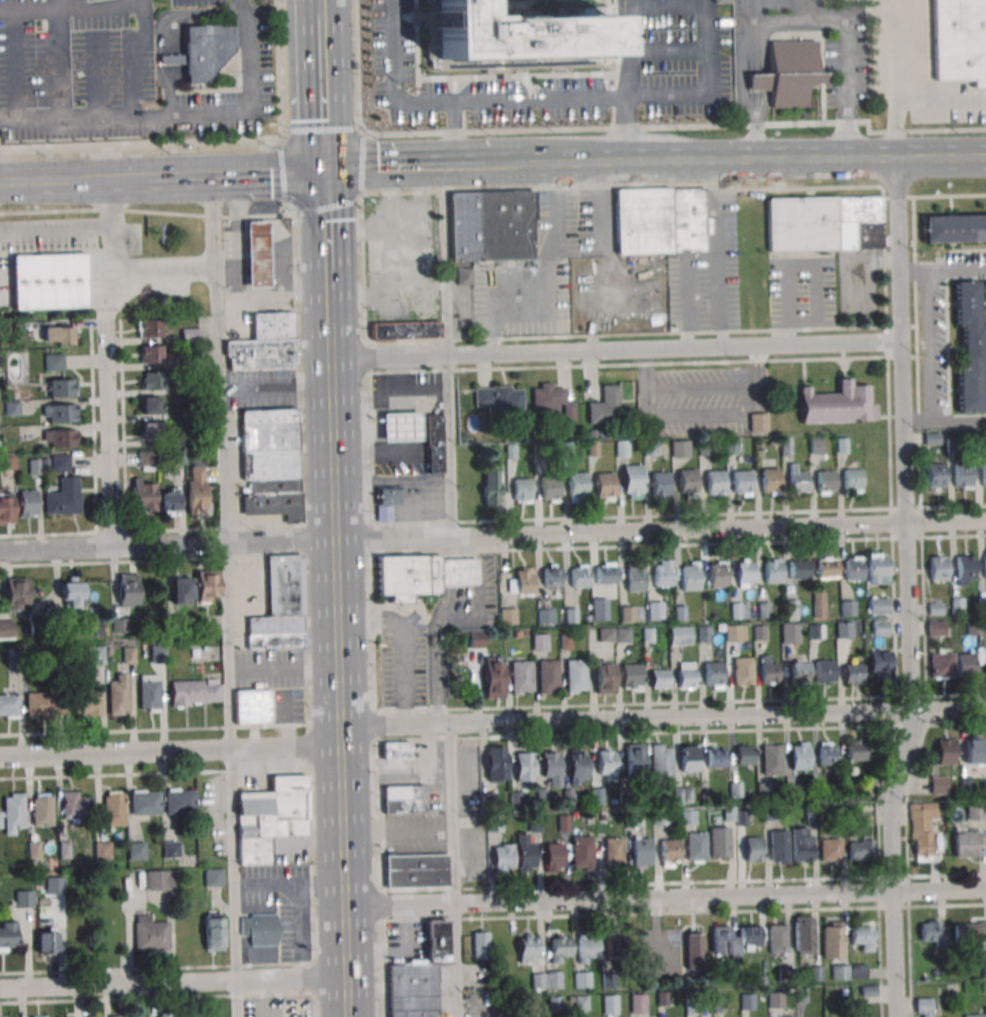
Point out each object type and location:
building: (720, 2)
road: (88, 3)
road: (55, 4)
road: (317, 7)
road: (64, 8)
road: (836, 23)
building: (517, 33)
building: (959, 39)
building: (206, 49)
road: (753, 49)
road: (892, 51)
road: (102, 64)
road: (354, 64)
road: (58, 66)
road: (16, 68)
road: (280, 72)
building: (790, 73)
road: (754, 83)
building: (979, 83)
road: (319, 94)
road: (549, 99)
road: (909, 101)
road: (254, 112)
road: (126, 120)
road: (679, 126)
road: (318, 129)
road: (755, 129)
road: (360, 131)
road: (626, 132)
road: (844, 134)
road: (453, 137)
road: (140, 142)
road: (362, 164)
road: (752, 166)
road: (498, 170)
road: (400, 172)
road: (281, 173)
traffic signals: (322, 174)
road: (235, 177)
road: (74, 184)
road: (358, 197)
road: (290, 207)
road: (326, 208)
building: (662, 221)
building: (824, 223)
building: (492, 226)
road: (54, 227)
building: (954, 227)
road: (323, 231)
building: (256, 254)
road: (717, 256)
building: (402, 260)
road: (954, 270)
road: (543, 271)
road: (160, 275)
building: (463, 275)
building: (49, 281)
road: (685, 289)
building: (424, 301)
road: (325, 304)
building: (272, 325)
building: (149, 328)
building: (405, 329)
building: (57, 335)
building: (189, 335)
building: (969, 348)
road: (614, 351)
building: (259, 353)
building: (151, 354)
road: (446, 354)
building: (54, 362)
road: (928, 363)
road: (104, 364)
building: (152, 380)
building: (62, 387)
road: (327, 395)
building: (499, 398)
road: (363, 399)
building: (551, 400)
building: (151, 405)
building: (605, 405)
building: (837, 405)
building: (59, 413)
building: (758, 422)
road: (917, 423)
building: (398, 425)
building: (150, 429)
building: (59, 438)
road: (400, 439)
building: (432, 442)
building: (785, 445)
building: (841, 446)
building: (730, 447)
building: (815, 447)
building: (648, 448)
building: (704, 448)
building: (593, 449)
building: (621, 449)
building: (679, 449)
building: (565, 450)
building: (538, 451)
building: (510, 452)
building: (146, 460)
building: (59, 463)
building: (270, 464)
building: (983, 474)
building: (961, 475)
building: (934, 476)
building: (631, 479)
road: (390, 480)
building: (852, 480)
building: (824, 481)
building: (686, 482)
building: (769, 482)
building: (797, 482)
building: (658, 483)
building: (741, 483)
building: (714, 484)
building: (490, 486)
building: (604, 486)
building: (576, 487)
building: (548, 488)
building: (196, 490)
building: (521, 490)
building: (143, 496)
building: (64, 497)
building: (169, 499)
building: (385, 501)
building: (27, 503)
building: (6, 507)
road: (659, 530)
road: (166, 544)
building: (877, 567)
building: (985, 567)
building: (936, 568)
building: (964, 568)
building: (825, 569)
building: (798, 570)
building: (852, 570)
building: (744, 573)
building: (772, 573)
building: (422, 574)
building: (662, 574)
building: (604, 575)
building: (717, 576)
building: (551, 577)
building: (689, 577)
building: (579, 578)
building: (634, 580)
building: (523, 584)
building: (207, 586)
building: (127, 590)
building: (181, 590)
building: (71, 591)
road: (909, 591)
building: (15, 593)
road: (225, 597)
building: (281, 604)
building: (818, 604)
building: (878, 605)
building: (600, 608)
building: (847, 608)
building: (655, 609)
building: (738, 610)
building: (626, 614)
building: (545, 616)
building: (507, 617)
building: (570, 617)
building: (120, 625)
building: (93, 627)
building: (973, 627)
building: (6, 628)
building: (935, 628)
building: (879, 629)
building: (843, 630)
building: (816, 631)
building: (788, 632)
building: (733, 633)
building: (703, 634)
building: (647, 635)
building: (605, 636)
building: (622, 636)
building: (680, 636)
building: (475, 639)
road: (400, 641)
building: (564, 641)
building: (540, 642)
building: (157, 654)
building: (95, 655)
building: (128, 655)
building: (985, 663)
building: (965, 664)
building: (880, 665)
building: (941, 665)
building: (742, 670)
building: (769, 670)
building: (824, 671)
building: (796, 672)
building: (712, 673)
building: (852, 673)
building: (686, 674)
building: (574, 676)
building: (629, 676)
building: (493, 677)
building: (546, 677)
building: (519, 678)
building: (603, 678)
building: (659, 678)
building: (149, 692)
building: (194, 693)
building: (118, 695)
building: (87, 701)
road: (719, 702)
building: (45, 703)
building: (9, 705)
building: (250, 706)
road: (661, 717)
road: (338, 742)
road: (307, 747)
building: (396, 749)
building: (855, 750)
building: (946, 751)
building: (974, 751)
road: (169, 753)
building: (828, 753)
building: (744, 754)
building: (799, 755)
building: (713, 756)
building: (634, 758)
building: (688, 758)
building: (771, 759)
building: (661, 761)
building: (496, 764)
building: (606, 764)
building: (524, 766)
building: (551, 767)
building: (577, 767)
building: (939, 784)
building: (682, 794)
building: (405, 799)
building: (180, 801)
building: (145, 802)
building: (75, 805)
building: (114, 808)
building: (42, 809)
building: (975, 812)
building: (12, 813)
building: (270, 817)
building: (661, 817)
building: (497, 824)
building: (922, 829)
building: (719, 843)
building: (966, 843)
building: (802, 844)
building: (779, 845)
building: (696, 846)
building: (830, 848)
building: (171, 849)
building: (752, 849)
building: (861, 849)
building: (103, 850)
building: (613, 850)
building: (525, 852)
building: (582, 852)
building: (641, 852)
building: (669, 852)
building: (503, 857)
building: (554, 857)
road: (451, 870)
building: (417, 871)
building: (159, 880)
building: (55, 886)
road: (664, 897)
building: (23, 898)
building: (260, 929)
building: (930, 930)
building: (968, 932)
building: (150, 933)
building: (213, 934)
building: (802, 935)
building: (8, 936)
building: (862, 937)
building: (734, 938)
building: (778, 938)
building: (832, 939)
building: (47, 942)
building: (438, 942)
building: (481, 945)
building: (615, 946)
building: (559, 947)
building: (528, 948)
building: (587, 948)
building: (693, 952)
building: (984, 968)
building: (841, 972)
building: (546, 979)
building: (582, 979)
building: (608, 980)
road: (172, 981)
building: (413, 990)
building: (776, 1000)
building: (747, 1001)
building: (581, 1002)
building: (638, 1002)
building: (555, 1004)
building: (610, 1004)
building: (923, 1007)
building: (161, 1015)
building: (975, 1015)
building: (39, 1016)
building: (94, 1016)
building: (118, 1016)
building: (784, 1016)

